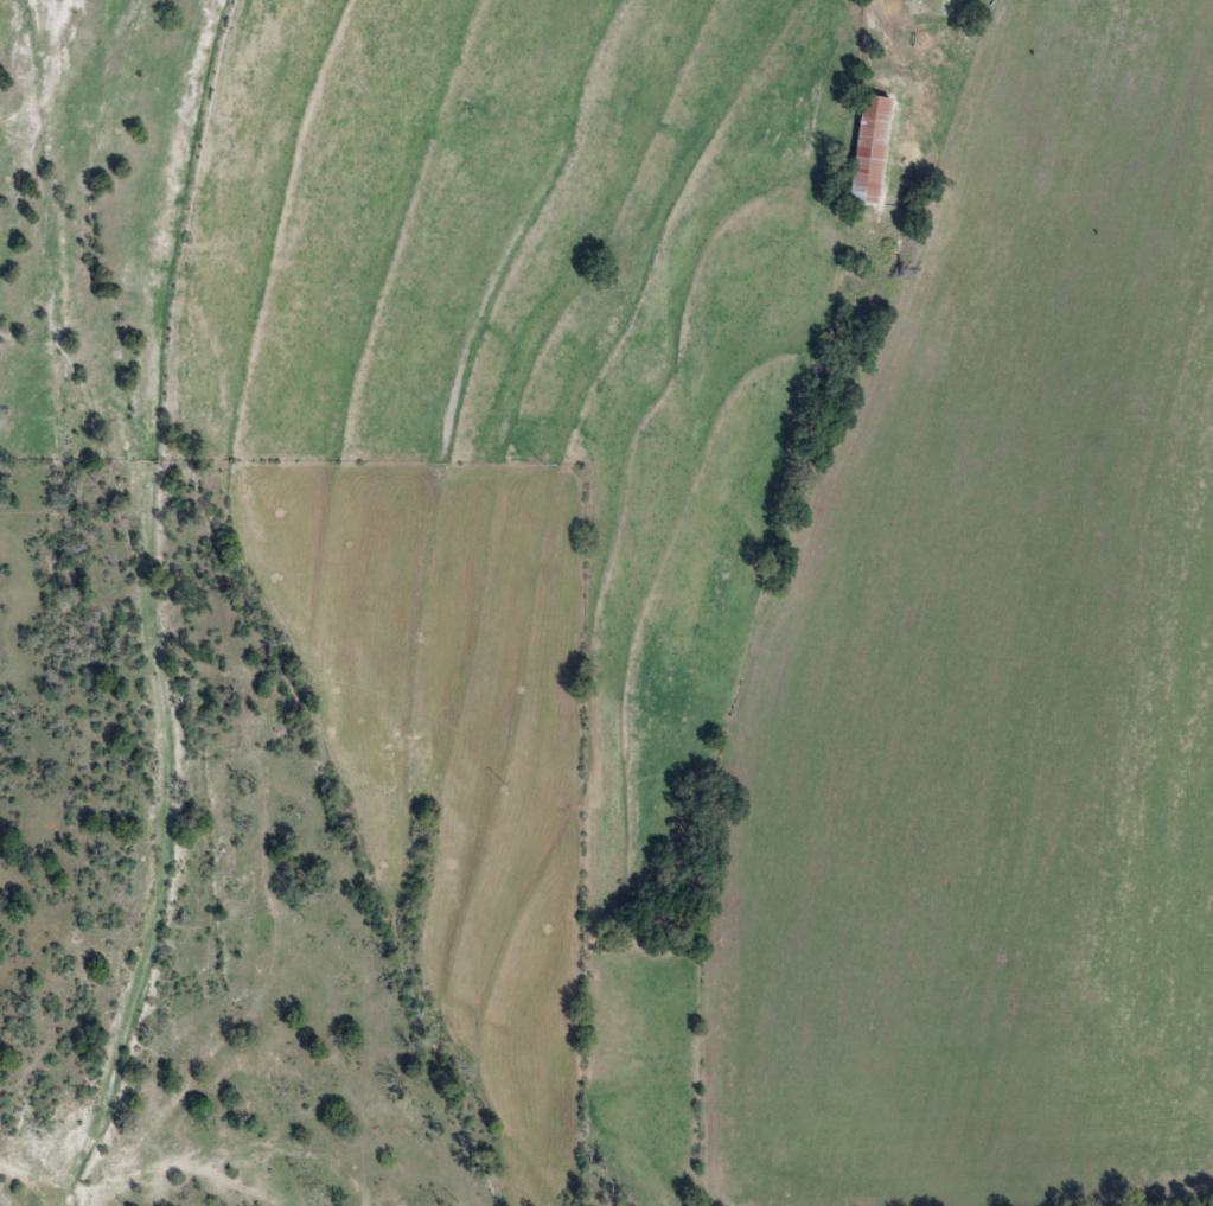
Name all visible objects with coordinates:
building: (862, 148)
railway: (541, 601)

